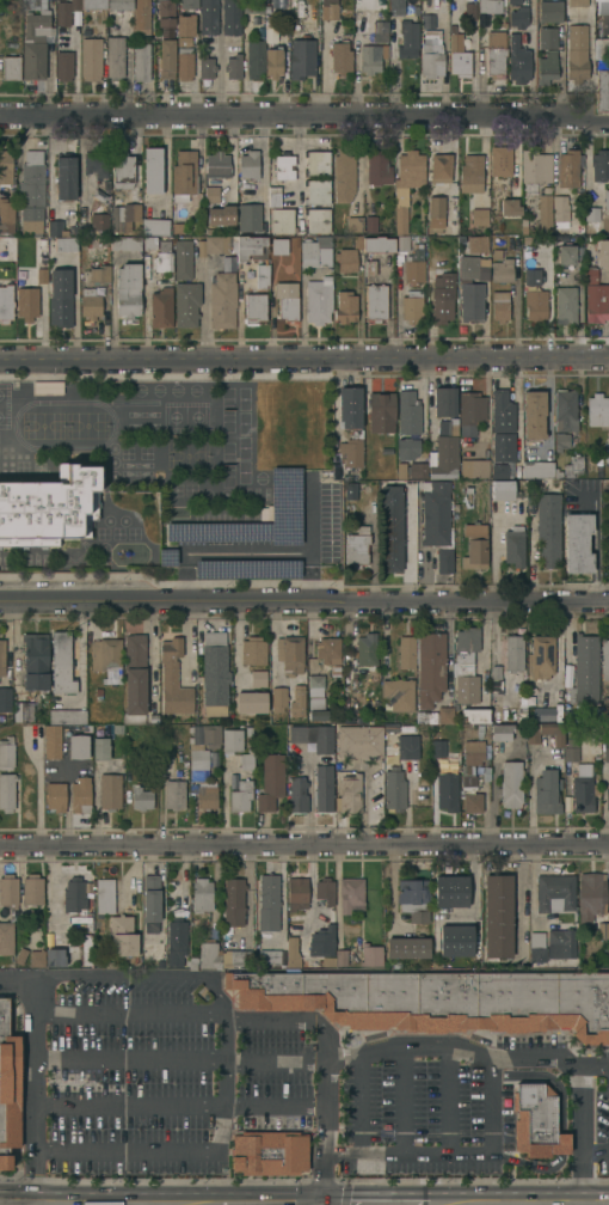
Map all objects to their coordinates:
building: (577, 2)
building: (93, 4)
building: (189, 4)
building: (119, 5)
building: (494, 5)
building: (253, 6)
building: (601, 6)
building: (395, 8)
building: (328, 10)
building: (469, 10)
building: (549, 11)
building: (62, 13)
building: (166, 13)
building: (141, 14)
building: (208, 17)
building: (230, 17)
building: (518, 17)
building: (185, 25)
building: (427, 30)
building: (380, 31)
building: (270, 32)
building: (36, 37)
building: (548, 37)
building: (407, 38)
building: (493, 38)
building: (601, 48)
building: (497, 51)
building: (577, 53)
building: (431, 54)
building: (115, 56)
building: (340, 56)
building: (459, 56)
building: (91, 57)
building: (166, 57)
building: (254, 57)
building: (301, 57)
building: (369, 57)
building: (518, 60)
building: (141, 61)
building: (272, 62)
building: (184, 63)
building: (63, 65)
building: (205, 66)
building: (233, 66)
building: (11, 67)
building: (546, 67)
building: (601, 90)
road: (304, 118)
building: (96, 163)
building: (316, 163)
building: (217, 164)
building: (248, 164)
building: (599, 164)
building: (283, 165)
building: (411, 166)
building: (500, 166)
building: (535, 166)
building: (441, 167)
building: (568, 167)
building: (377, 169)
building: (153, 170)
building: (5, 171)
building: (470, 173)
building: (184, 175)
building: (66, 176)
building: (344, 176)
building: (31, 191)
building: (316, 191)
building: (211, 194)
building: (117, 196)
building: (273, 196)
building: (605, 201)
building: (509, 206)
building: (400, 209)
building: (436, 210)
building: (560, 210)
building: (545, 212)
building: (6, 215)
building: (219, 215)
building: (248, 216)
building: (479, 216)
building: (591, 219)
building: (282, 220)
building: (316, 220)
building: (98, 221)
building: (355, 224)
building: (154, 225)
building: (370, 225)
building: (56, 228)
building: (177, 228)
building: (125, 243)
building: (377, 243)
building: (401, 243)
building: (476, 243)
building: (66, 244)
building: (213, 244)
building: (278, 246)
building: (251, 247)
building: (313, 250)
building: (566, 253)
building: (593, 257)
building: (183, 258)
building: (346, 259)
building: (162, 262)
building: (369, 267)
building: (413, 267)
building: (473, 267)
building: (502, 270)
building: (99, 273)
building: (263, 275)
building: (39, 276)
building: (530, 277)
building: (562, 277)
building: (128, 289)
building: (60, 296)
building: (222, 299)
building: (535, 299)
building: (470, 300)
building: (90, 301)
building: (318, 301)
building: (376, 301)
building: (6, 302)
building: (26, 302)
building: (186, 302)
building: (596, 302)
building: (565, 304)
building: (500, 305)
building: (161, 306)
building: (345, 306)
building: (411, 306)
building: (288, 307)
building: (254, 308)
building: (442, 308)
road: (303, 359)
building: (45, 387)
building: (444, 400)
road: (427, 403)
building: (349, 408)
building: (470, 410)
building: (596, 410)
building: (408, 411)
building: (502, 411)
building: (381, 412)
building: (533, 415)
building: (565, 420)
park: (288, 424)
building: (445, 427)
building: (503, 446)
building: (406, 448)
building: (350, 453)
building: (443, 459)
building: (572, 465)
building: (474, 469)
building: (499, 469)
building: (417, 470)
building: (540, 470)
building: (502, 490)
building: (284, 504)
building: (49, 508)
road: (310, 513)
building: (433, 518)
building: (547, 527)
building: (390, 528)
parking lot: (267, 533)
building: (515, 536)
building: (576, 543)
building: (474, 546)
building: (356, 548)
road: (247, 552)
building: (165, 556)
building: (443, 561)
road: (304, 601)
road: (235, 643)
building: (364, 650)
building: (252, 652)
building: (288, 653)
building: (405, 653)
building: (328, 654)
building: (512, 654)
building: (105, 656)
building: (540, 656)
building: (1, 657)
building: (604, 660)
building: (35, 662)
building: (61, 663)
building: (465, 666)
building: (429, 667)
building: (584, 671)
building: (214, 673)
building: (134, 679)
building: (257, 679)
building: (172, 680)
building: (494, 680)
building: (315, 683)
building: (396, 695)
building: (277, 698)
building: (5, 699)
building: (608, 699)
building: (296, 701)
building: (250, 703)
building: (21, 712)
building: (590, 714)
building: (444, 715)
building: (475, 715)
building: (316, 716)
building: (66, 717)
building: (499, 732)
building: (545, 734)
building: (310, 738)
building: (50, 741)
building: (230, 741)
building: (358, 741)
building: (76, 747)
building: (605, 747)
building: (99, 750)
building: (201, 750)
building: (408, 750)
building: (437, 750)
building: (571, 750)
building: (6, 753)
building: (472, 753)
building: (246, 760)
road: (63, 771)
building: (269, 783)
building: (467, 783)
building: (510, 784)
building: (393, 788)
building: (322, 789)
building: (582, 789)
road: (37, 790)
building: (109, 791)
road: (530, 791)
building: (546, 791)
building: (6, 793)
building: (445, 793)
road: (66, 794)
road: (308, 794)
building: (349, 794)
building: (79, 795)
building: (173, 795)
building: (297, 795)
building: (54, 796)
building: (239, 796)
building: (204, 797)
building: (140, 799)
building: (607, 799)
road: (223, 803)
building: (472, 803)
road: (367, 807)
road: (304, 845)
road: (473, 879)
building: (8, 888)
building: (31, 888)
building: (324, 888)
road: (281, 891)
building: (451, 891)
road: (247, 893)
building: (296, 893)
building: (554, 893)
building: (202, 894)
building: (350, 894)
building: (104, 895)
building: (590, 897)
road: (518, 898)
building: (413, 899)
building: (233, 900)
building: (75, 901)
building: (150, 901)
building: (267, 901)
building: (497, 916)
building: (603, 930)
building: (122, 935)
building: (6, 937)
building: (177, 938)
building: (456, 940)
building: (536, 940)
building: (321, 941)
building: (562, 941)
building: (407, 947)
building: (86, 949)
building: (291, 950)
building: (208, 954)
building: (370, 955)
building: (55, 956)
building: (239, 956)
building: (269, 956)
building: (536, 956)
building: (20, 958)
building: (36, 958)
building: (336, 958)
road: (141, 977)
building: (437, 999)
road: (189, 1016)
road: (519, 1057)
road: (197, 1059)
road: (593, 1065)
building: (8, 1088)
road: (400, 1101)
road: (357, 1103)
road: (176, 1108)
building: (536, 1121)
road: (487, 1123)
road: (31, 1130)
road: (143, 1148)
building: (269, 1151)
road: (436, 1152)
road: (593, 1158)
road: (109, 1204)
road: (269, 1204)

